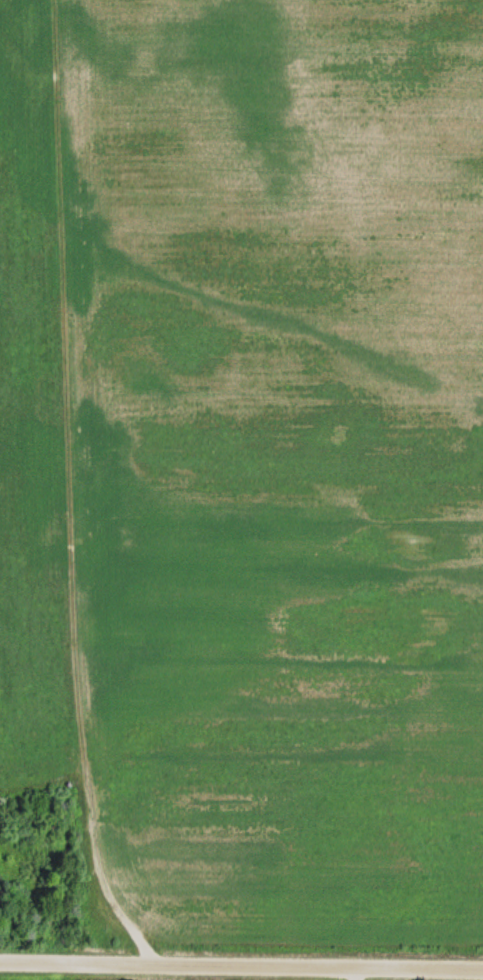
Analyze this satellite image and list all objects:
road: (66, 488)
road: (241, 966)
road: (350, 974)

